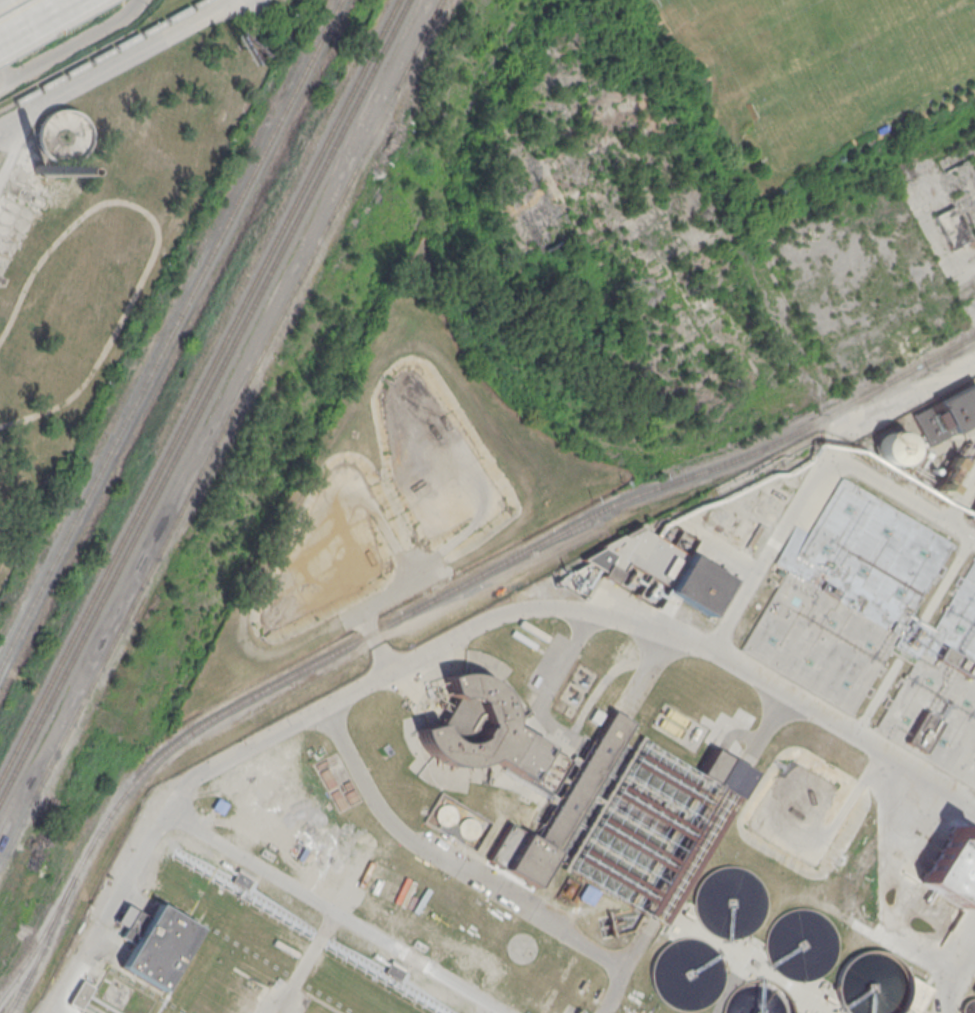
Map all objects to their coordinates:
road: (40, 22)
road: (72, 46)
railway: (101, 54)
road: (116, 65)
park: (848, 66)
road: (4, 73)
park: (812, 87)
building: (62, 134)
road: (18, 144)
building: (38, 169)
building: (952, 226)
railway: (170, 332)
road: (915, 388)
railway: (198, 389)
railway: (203, 399)
building: (946, 413)
railway: (219, 430)
building: (893, 447)
storage tank: (893, 447)
building: (945, 476)
building: (972, 510)
railway: (504, 561)
building: (657, 567)
building: (846, 596)
wastewater plant: (846, 596)
road: (372, 601)
road: (609, 615)
building: (522, 644)
building: (941, 693)
wastewater plant: (941, 693)
building: (672, 722)
wastewater plant: (563, 731)
building: (517, 770)
building: (219, 806)
road: (389, 819)
building: (459, 824)
wastewater plant: (655, 829)
road: (235, 857)
building: (952, 866)
building: (242, 879)
railway: (67, 889)
building: (728, 901)
storage tank: (728, 901)
railway: (45, 929)
building: (800, 945)
storage tank: (800, 945)
building: (154, 947)
railway: (36, 957)
building: (394, 970)
building: (685, 974)
storage tank: (685, 974)
building: (870, 984)
storage tank: (870, 984)
building: (80, 994)
building: (757, 998)
storage tank: (757, 998)
building: (970, 1002)
building: (902, 1009)
wastewater plant: (906, 1010)

